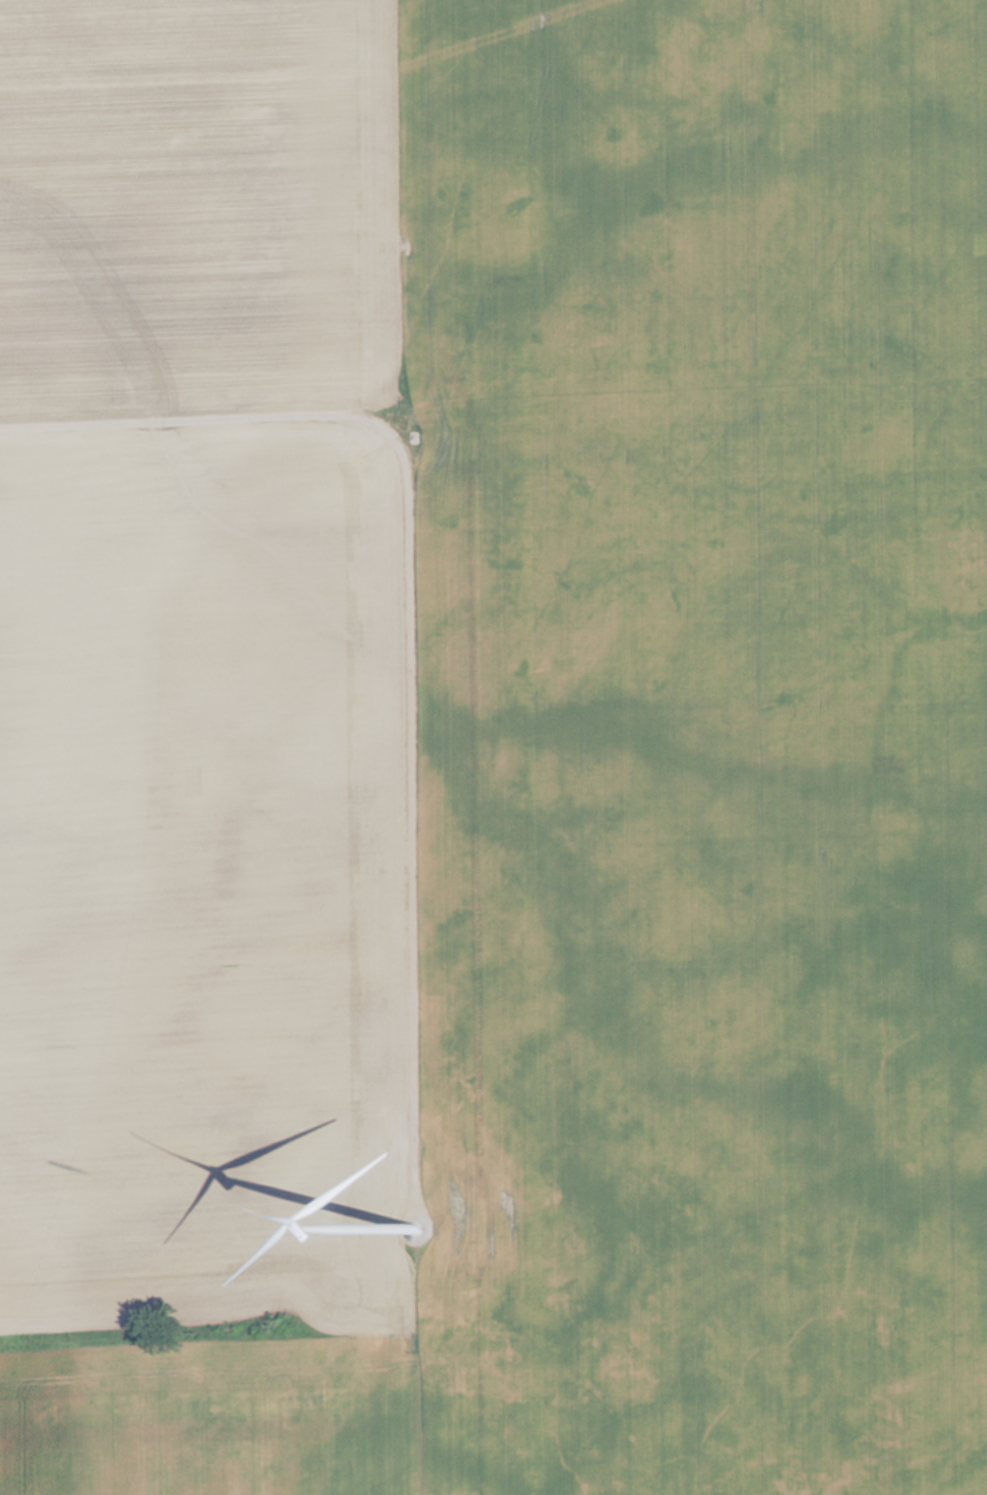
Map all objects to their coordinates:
wind turbine: (417, 1231)

